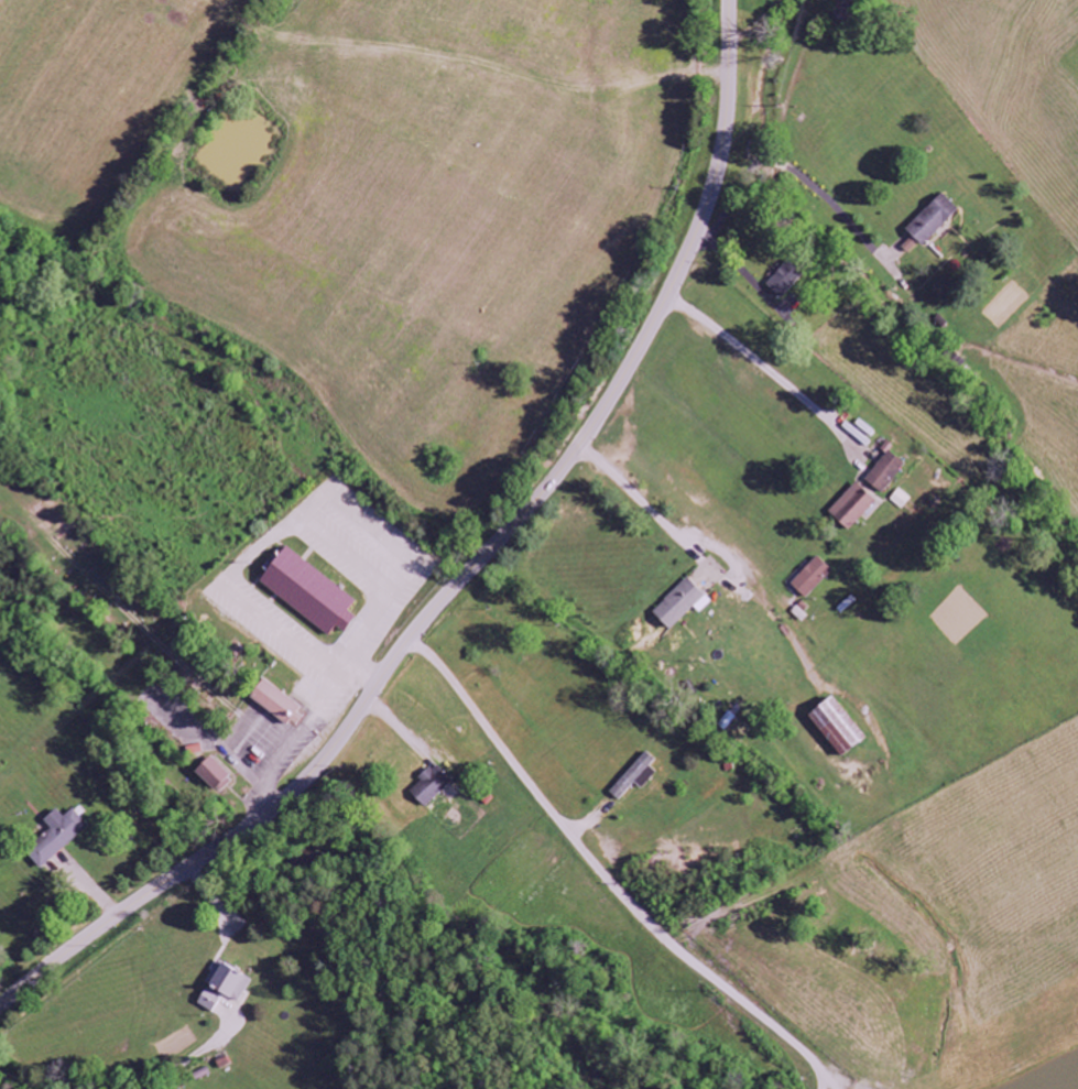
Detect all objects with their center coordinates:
road: (783, 167)
building: (933, 220)
building: (786, 280)
road: (764, 369)
building: (886, 472)
building: (901, 500)
building: (853, 508)
road: (711, 551)
road: (470, 570)
building: (813, 578)
building: (309, 593)
park: (133, 595)
building: (682, 605)
building: (838, 728)
building: (215, 775)
building: (636, 777)
building: (432, 786)
building: (56, 837)
road: (609, 878)
building: (224, 988)
road: (1019, 1060)
road: (207, 1072)
road: (112, 1079)
road: (823, 1080)
road: (841, 1088)

